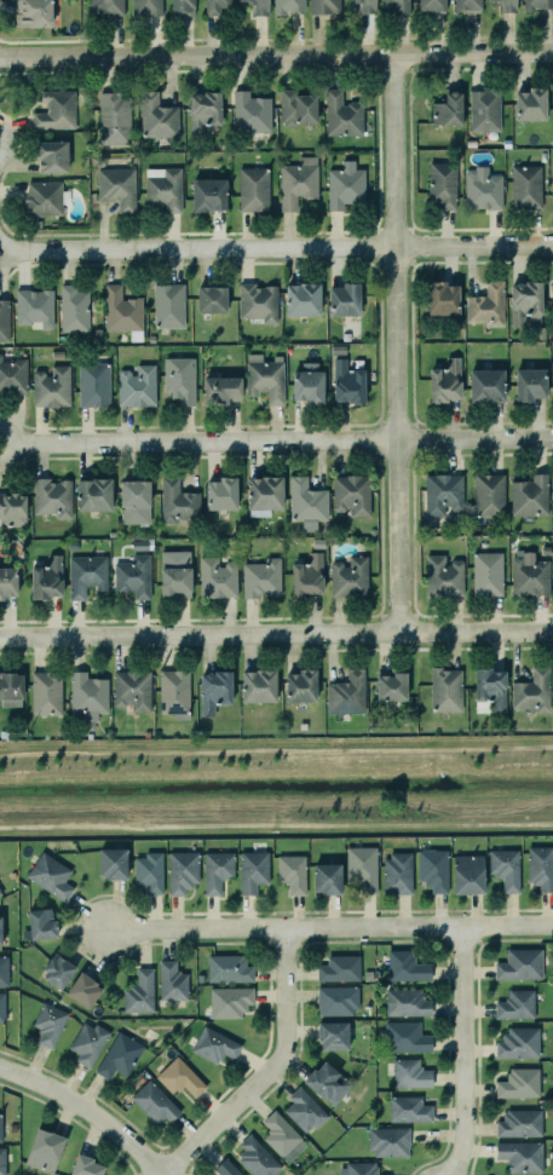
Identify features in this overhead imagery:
building: (536, 4)
building: (431, 5)
building: (467, 5)
building: (506, 5)
building: (183, 6)
building: (215, 6)
building: (258, 6)
building: (287, 6)
building: (323, 6)
building: (365, 6)
building: (394, 6)
building: (105, 7)
building: (145, 7)
building: (33, 13)
road: (276, 53)
building: (530, 104)
building: (296, 108)
building: (448, 108)
building: (54, 110)
building: (484, 110)
building: (203, 111)
building: (250, 111)
building: (341, 114)
building: (156, 116)
building: (114, 117)
road: (6, 143)
building: (51, 156)
building: (542, 156)
building: (154, 172)
building: (552, 179)
building: (298, 182)
building: (345, 185)
building: (442, 185)
building: (116, 186)
building: (525, 188)
building: (482, 189)
building: (165, 190)
building: (253, 190)
building: (208, 195)
building: (41, 198)
road: (472, 246)
road: (196, 248)
building: (552, 295)
building: (303, 298)
building: (443, 298)
building: (212, 299)
building: (344, 299)
building: (524, 300)
building: (257, 301)
building: (168, 305)
building: (486, 305)
building: (34, 306)
building: (73, 309)
building: (121, 310)
building: (4, 319)
building: (345, 338)
building: (150, 339)
road: (392, 342)
building: (338, 349)
building: (12, 375)
building: (265, 378)
building: (179, 379)
building: (552, 380)
building: (347, 381)
building: (445, 381)
building: (93, 384)
building: (530, 384)
building: (307, 385)
building: (485, 385)
building: (51, 386)
building: (137, 386)
building: (221, 390)
road: (276, 440)
road: (148, 456)
building: (134, 493)
building: (265, 493)
building: (442, 493)
building: (93, 494)
building: (221, 494)
building: (351, 494)
building: (488, 495)
building: (529, 495)
building: (52, 496)
building: (177, 501)
building: (306, 501)
building: (12, 509)
building: (140, 545)
building: (486, 574)
building: (86, 575)
building: (306, 575)
building: (529, 575)
building: (133, 576)
building: (348, 576)
building: (443, 576)
building: (217, 577)
building: (260, 577)
building: (46, 578)
building: (7, 581)
building: (175, 581)
road: (276, 633)
building: (259, 685)
building: (391, 685)
building: (300, 686)
building: (490, 687)
building: (10, 689)
building: (132, 690)
building: (214, 690)
building: (445, 690)
building: (173, 691)
building: (532, 691)
building: (46, 693)
building: (87, 693)
building: (346, 693)
road: (508, 748)
road: (231, 751)
park: (278, 787)
road: (123, 819)
road: (401, 823)
building: (113, 863)
building: (362, 868)
building: (505, 868)
building: (541, 868)
building: (432, 869)
building: (252, 870)
building: (182, 871)
building: (217, 871)
building: (149, 872)
building: (292, 872)
building: (397, 872)
building: (12, 874)
building: (468, 874)
building: (50, 876)
building: (327, 879)
building: (0, 892)
building: (0, 894)
building: (41, 923)
road: (328, 926)
building: (0, 931)
building: (519, 963)
building: (405, 966)
building: (227, 968)
building: (339, 968)
building: (57, 970)
building: (2, 972)
building: (367, 975)
building: (198, 977)
building: (171, 981)
building: (82, 990)
building: (139, 992)
building: (336, 1000)
building: (229, 1001)
building: (405, 1002)
building: (515, 1004)
building: (1, 1008)
building: (48, 1024)
building: (333, 1033)
building: (404, 1036)
building: (87, 1043)
building: (518, 1043)
building: (214, 1046)
road: (462, 1052)
building: (119, 1055)
road: (267, 1071)
building: (409, 1072)
building: (180, 1078)
building: (327, 1082)
building: (518, 1083)
building: (154, 1102)
building: (408, 1108)
road: (87, 1110)
building: (304, 1110)
building: (519, 1122)
building: (0, 1127)
building: (12, 1128)
building: (282, 1135)
building: (388, 1140)
building: (44, 1150)
building: (520, 1156)
building: (257, 1157)
building: (2, 1160)
building: (83, 1165)
building: (226, 1168)
building: (362, 1168)

